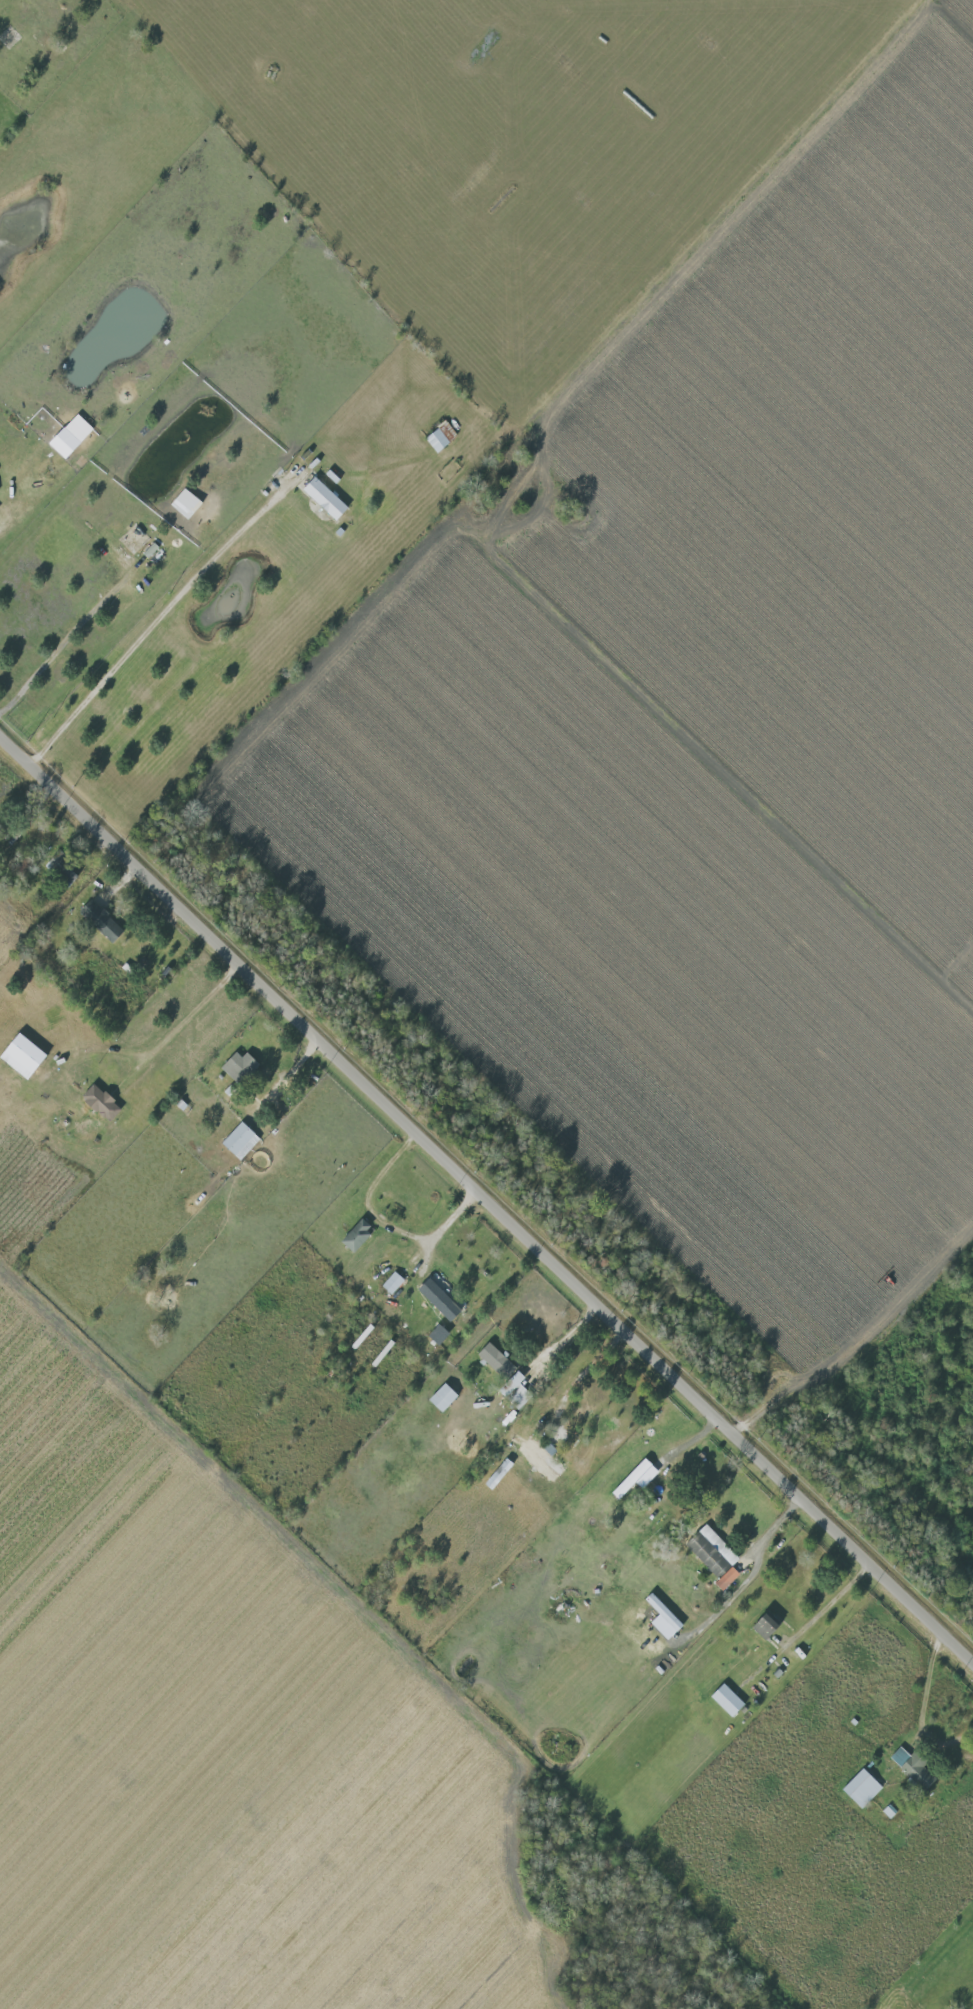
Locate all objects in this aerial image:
building: (437, 436)
building: (67, 443)
building: (327, 499)
road: (154, 624)
road: (65, 640)
building: (65, 864)
road: (270, 866)
building: (104, 921)
road: (193, 1007)
building: (26, 1057)
building: (242, 1067)
building: (104, 1102)
building: (243, 1141)
road: (487, 1194)
road: (387, 1221)
building: (359, 1236)
building: (394, 1283)
building: (442, 1300)
building: (441, 1334)
road: (586, 1369)
building: (503, 1376)
building: (439, 1397)
building: (627, 1478)
building: (711, 1555)
road: (819, 1609)
building: (659, 1611)
building: (763, 1625)
building: (723, 1700)
building: (910, 1769)
building: (858, 1788)

